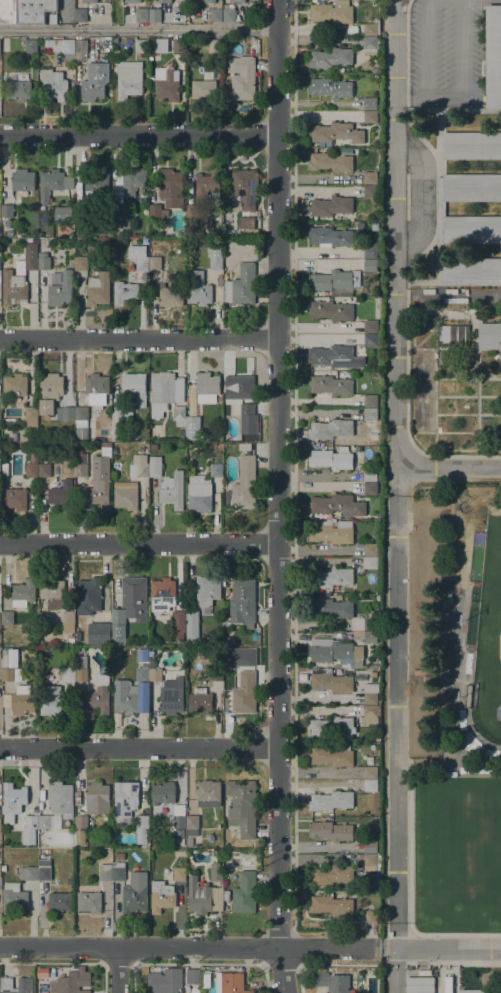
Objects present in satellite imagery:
building: (86, 1)
building: (133, 1)
building: (163, 1)
building: (202, 1)
building: (238, 1)
building: (34, 10)
building: (8, 12)
building: (228, 13)
building: (332, 13)
building: (80, 14)
building: (142, 15)
building: (155, 15)
building: (211, 15)
building: (371, 28)
road: (140, 29)
building: (61, 45)
building: (370, 45)
building: (30, 46)
building: (141, 46)
building: (178, 46)
building: (216, 46)
building: (80, 49)
road: (406, 52)
parking lot: (444, 53)
building: (493, 56)
building: (330, 58)
building: (242, 77)
building: (128, 80)
building: (94, 82)
building: (166, 84)
building: (54, 85)
building: (330, 88)
building: (18, 90)
building: (204, 90)
building: (370, 103)
building: (370, 116)
building: (336, 132)
road: (139, 134)
building: (472, 145)
building: (330, 162)
building: (133, 177)
building: (370, 177)
building: (22, 182)
building: (53, 183)
building: (208, 185)
building: (170, 187)
building: (471, 187)
building: (245, 188)
road: (437, 188)
building: (93, 189)
building: (370, 191)
building: (330, 206)
building: (7, 210)
building: (157, 210)
building: (192, 210)
building: (439, 211)
building: (63, 213)
building: (120, 217)
building: (246, 222)
building: (358, 226)
building: (374, 226)
building: (71, 227)
building: (471, 229)
building: (254, 232)
building: (80, 233)
building: (330, 236)
building: (371, 249)
building: (215, 255)
building: (44, 260)
building: (81, 263)
building: (142, 263)
building: (155, 263)
building: (370, 265)
building: (471, 271)
building: (19, 276)
building: (335, 281)
building: (241, 285)
building: (198, 288)
building: (97, 289)
building: (61, 290)
building: (124, 292)
building: (170, 296)
building: (331, 310)
building: (371, 326)
building: (454, 334)
building: (489, 336)
road: (140, 339)
building: (370, 340)
building: (334, 356)
building: (441, 358)
building: (420, 370)
building: (15, 384)
building: (332, 384)
building: (135, 386)
building: (207, 387)
building: (97, 388)
building: (165, 391)
building: (244, 396)
building: (53, 397)
building: (371, 401)
building: (81, 413)
building: (421, 413)
building: (31, 415)
building: (179, 415)
building: (370, 418)
building: (119, 419)
building: (0, 421)
building: (8, 421)
building: (193, 427)
building: (330, 429)
building: (154, 446)
building: (245, 446)
building: (227, 450)
building: (145, 451)
building: (80, 456)
building: (330, 459)
building: (155, 466)
building: (31, 467)
building: (139, 467)
road: (448, 467)
building: (4, 468)
building: (81, 469)
building: (44, 470)
building: (371, 475)
building: (99, 483)
building: (243, 485)
building: (370, 488)
building: (202, 489)
building: (172, 490)
building: (125, 494)
building: (62, 495)
road: (279, 496)
road: (396, 496)
building: (15, 498)
building: (338, 504)
building: (331, 532)
road: (139, 542)
building: (371, 549)
road: (314, 550)
building: (370, 563)
building: (331, 577)
building: (53, 591)
building: (88, 592)
building: (23, 593)
building: (207, 593)
building: (134, 594)
building: (162, 594)
building: (243, 602)
building: (329, 608)
building: (7, 617)
building: (179, 617)
building: (0, 618)
building: (77, 620)
building: (68, 621)
building: (371, 621)
building: (192, 625)
building: (118, 626)
building: (99, 633)
building: (367, 636)
park: (488, 638)
building: (71, 640)
building: (228, 641)
building: (337, 653)
building: (10, 659)
building: (0, 665)
building: (81, 668)
building: (154, 671)
building: (7, 674)
building: (65, 674)
building: (142, 674)
building: (216, 674)
building: (331, 682)
building: (244, 694)
building: (467, 695)
building: (99, 696)
building: (142, 696)
building: (125, 697)
building: (171, 697)
building: (370, 698)
building: (22, 701)
building: (51, 701)
building: (200, 701)
building: (369, 715)
building: (332, 727)
road: (139, 747)
building: (332, 755)
building: (448, 760)
building: (370, 772)
building: (370, 785)
building: (163, 793)
building: (208, 793)
building: (13, 798)
building: (60, 798)
building: (97, 798)
building: (125, 800)
building: (331, 800)
building: (242, 806)
building: (328, 813)
building: (179, 817)
building: (44, 821)
building: (0, 822)
building: (31, 822)
building: (81, 822)
building: (192, 825)
building: (141, 828)
building: (331, 831)
building: (181, 833)
building: (80, 836)
building: (189, 841)
building: (256, 844)
building: (370, 846)
road: (409, 846)
park: (457, 852)
building: (119, 856)
building: (370, 861)
building: (0, 868)
building: (3, 868)
building: (44, 869)
building: (118, 871)
building: (105, 872)
building: (28, 873)
building: (179, 874)
building: (216, 874)
building: (331, 875)
building: (70, 880)
building: (245, 893)
building: (225, 895)
building: (161, 896)
building: (14, 897)
building: (204, 897)
building: (134, 898)
building: (59, 902)
building: (89, 902)
building: (331, 905)
building: (371, 917)
road: (451, 934)
road: (410, 946)
road: (189, 947)
road: (296, 948)
road: (440, 948)
road: (118, 962)
road: (396, 962)
road: (455, 962)
road: (339, 963)
road: (381, 963)
road: (282, 965)
road: (118, 969)
building: (204, 970)
building: (42, 973)
building: (192, 976)
road: (453, 977)
building: (166, 980)
building: (205, 980)
building: (71, 982)
building: (332, 982)
building: (25, 983)
building: (230, 983)
building: (419, 985)
building: (479, 990)

